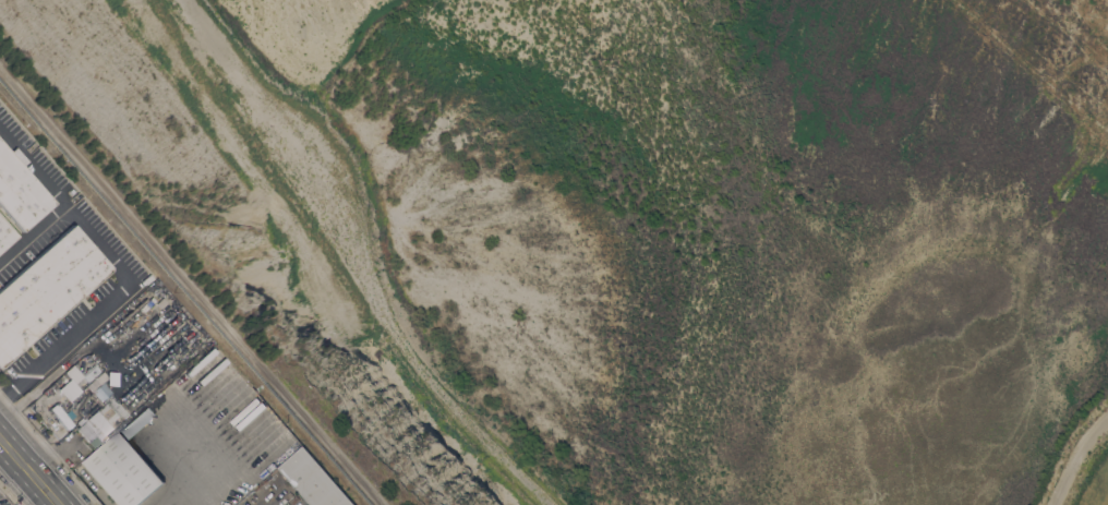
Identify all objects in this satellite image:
building: (20, 192)
road: (32, 232)
building: (5, 235)
quarry: (619, 235)
road: (360, 260)
road: (121, 270)
road: (193, 284)
building: (46, 289)
building: (77, 369)
building: (68, 389)
building: (59, 416)
building: (95, 426)
road: (2, 437)
road: (1073, 453)
road: (33, 467)
building: (312, 480)
road: (265, 501)

